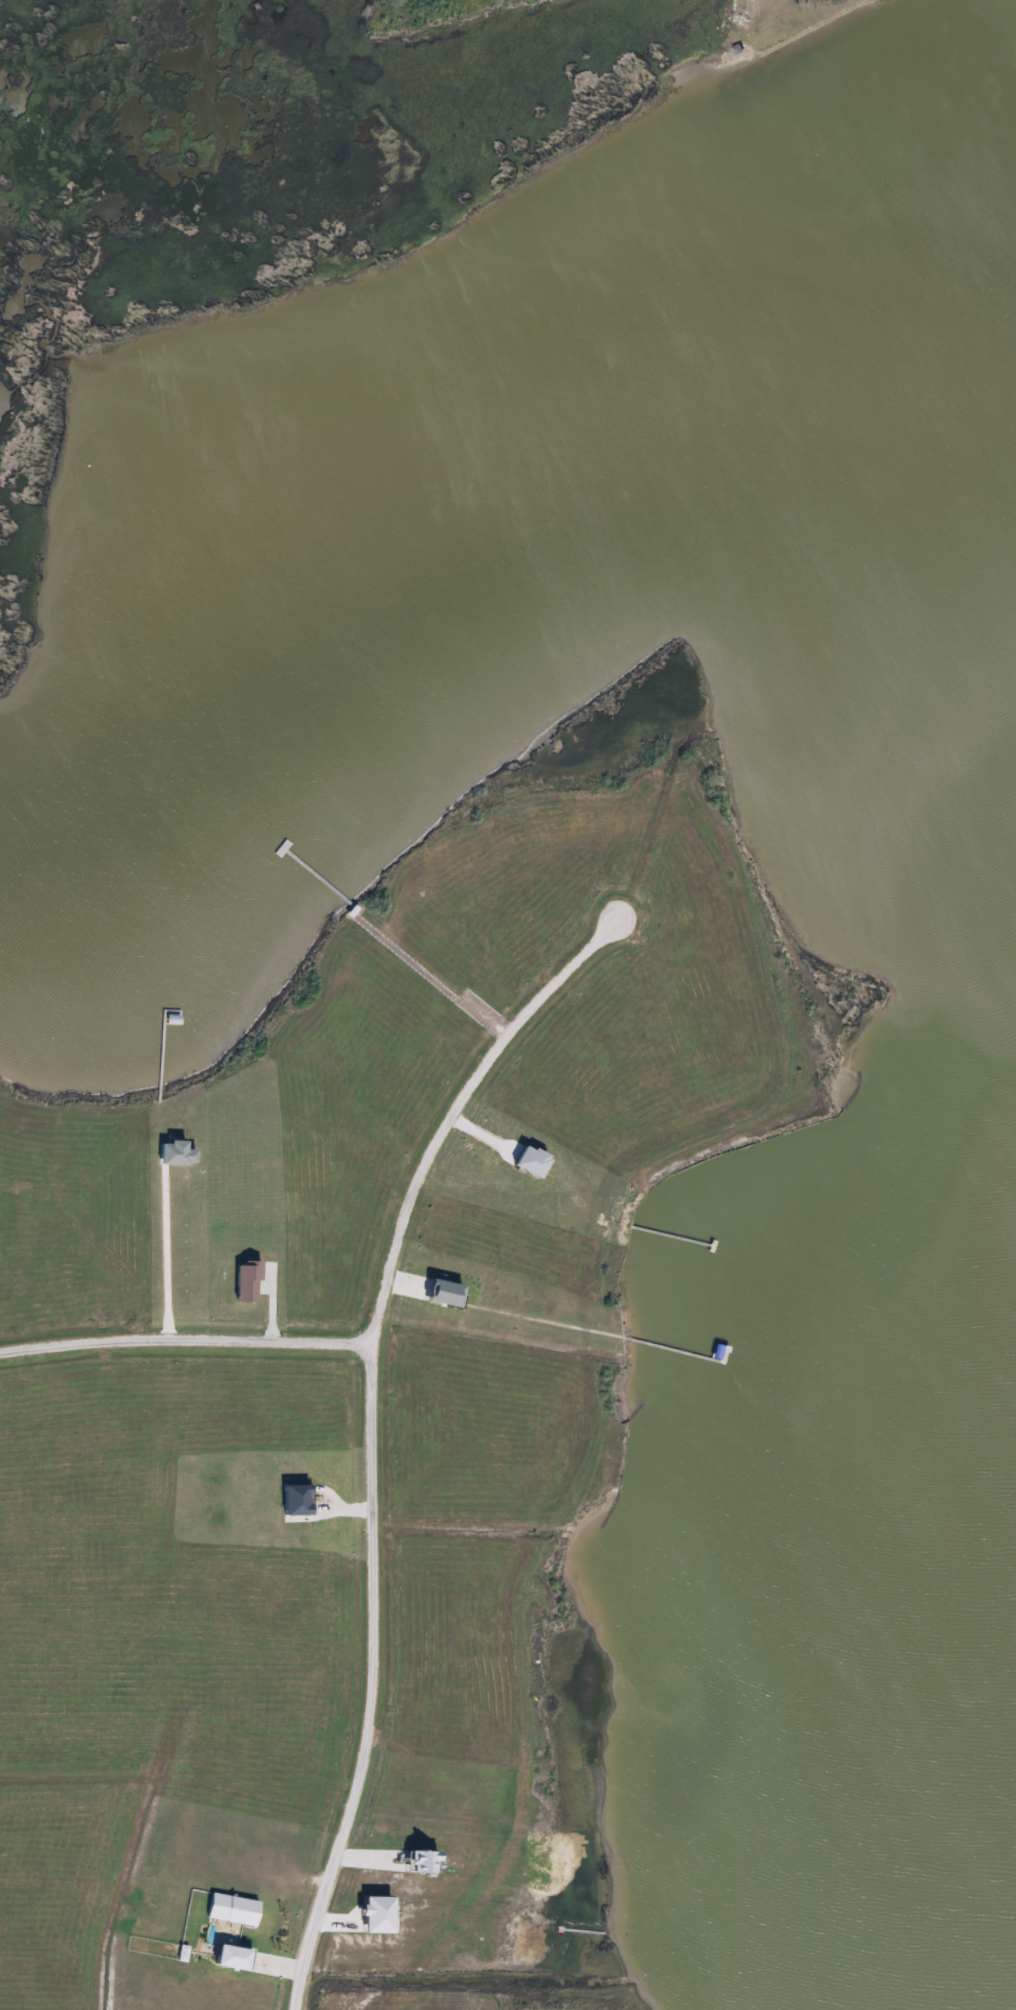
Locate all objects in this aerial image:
building: (182, 1154)
building: (537, 1161)
building: (252, 1280)
building: (451, 1293)
building: (237, 1910)
building: (238, 1959)

